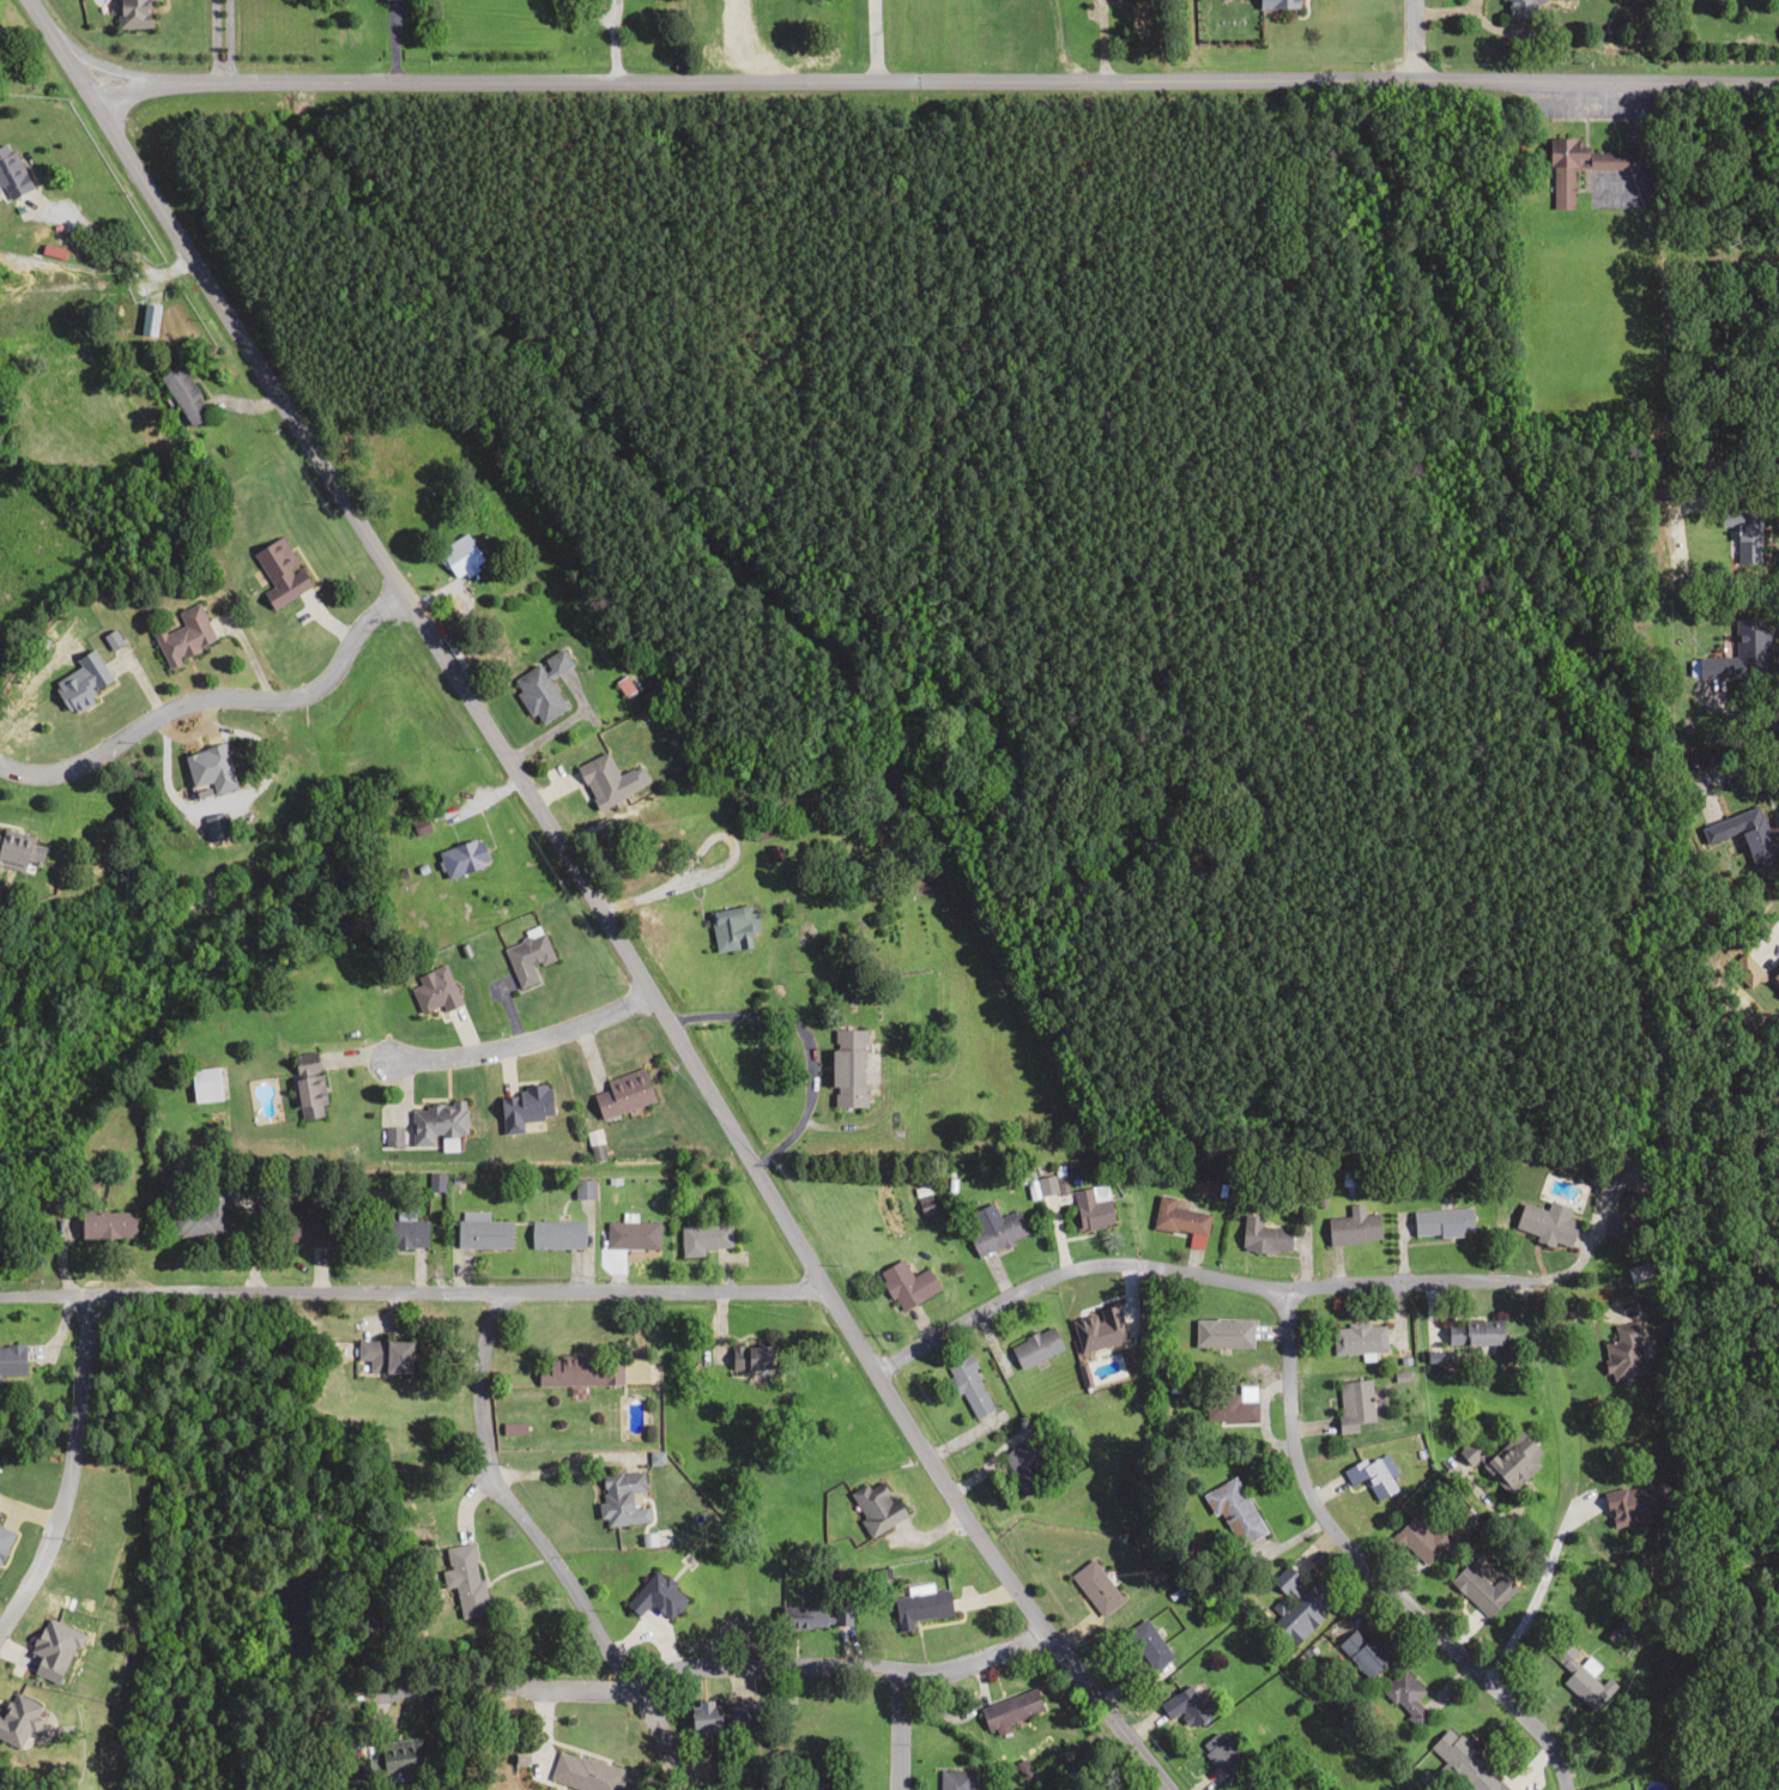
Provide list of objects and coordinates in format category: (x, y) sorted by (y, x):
building: (133, 13)
road: (1409, 41)
road: (933, 80)
building: (1577, 164)
building: (11, 171)
building: (182, 393)
building: (454, 549)
building: (1742, 555)
building: (279, 570)
building: (183, 634)
building: (1739, 653)
building: (78, 684)
building: (540, 687)
road: (212, 697)
building: (207, 767)
building: (600, 779)
building: (213, 824)
building: (1742, 830)
building: (13, 848)
building: (460, 857)
road: (589, 899)
building: (732, 927)
building: (526, 957)
building: (434, 990)
road: (520, 1040)
building: (846, 1066)
building: (204, 1084)
building: (307, 1086)
building: (623, 1093)
building: (524, 1107)
building: (436, 1120)
building: (1204, 1181)
building: (1091, 1209)
building: (202, 1215)
building: (1179, 1217)
building: (309, 1220)
building: (1441, 1222)
building: (1547, 1223)
building: (107, 1224)
building: (1616, 1224)
building: (1353, 1228)
building: (996, 1233)
building: (483, 1234)
building: (556, 1234)
building: (631, 1235)
building: (1263, 1235)
building: (703, 1238)
building: (1639, 1274)
road: (1416, 1281)
building: (907, 1284)
road: (284, 1293)
building: (1472, 1332)
building: (1223, 1334)
building: (1357, 1338)
building: (1035, 1347)
building: (1624, 1351)
building: (383, 1355)
building: (750, 1356)
building: (12, 1359)
building: (582, 1373)
road: (1285, 1373)
building: (968, 1386)
building: (1354, 1403)
building: (1234, 1404)
building: (1511, 1461)
building: (1022, 1465)
building: (1369, 1475)
building: (618, 1496)
building: (876, 1506)
building: (1234, 1512)
building: (1420, 1538)
building: (464, 1579)
building: (1095, 1588)
building: (1481, 1589)
building: (656, 1596)
building: (920, 1605)
building: (1299, 1605)
building: (803, 1616)
road: (583, 1619)
building: (1143, 1645)
building: (52, 1650)
building: (1361, 1650)
road: (973, 1658)
building: (1579, 1674)
building: (1404, 1698)
building: (1184, 1706)
building: (1008, 1711)
building: (716, 1717)
building: (17, 1719)
road: (750, 1729)
road: (898, 1730)
building: (1221, 1750)
building: (392, 1760)
building: (1464, 1762)
building: (585, 1773)
building: (955, 1779)
building: (811, 1786)

